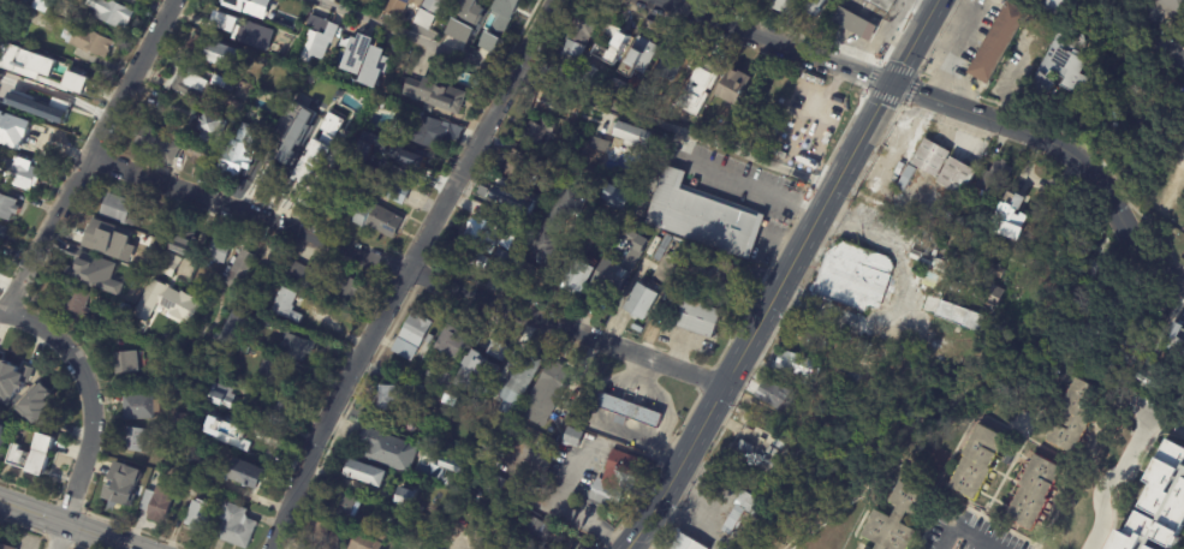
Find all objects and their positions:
building: (135, 0)
building: (260, 2)
building: (233, 5)
building: (881, 5)
building: (49, 6)
building: (395, 6)
building: (786, 6)
building: (814, 7)
building: (1049, 7)
building: (1168, 8)
building: (470, 11)
building: (510, 11)
building: (113, 12)
building: (426, 13)
building: (40, 20)
building: (225, 20)
building: (852, 26)
building: (61, 28)
building: (458, 30)
building: (561, 32)
building: (252, 34)
building: (1046, 34)
building: (317, 37)
building: (487, 41)
building: (89, 42)
building: (576, 42)
building: (475, 44)
building: (996, 44)
building: (609, 47)
building: (358, 50)
building: (1012, 50)
road: (1168, 53)
building: (209, 54)
building: (25, 61)
building: (637, 61)
building: (670, 64)
building: (376, 65)
building: (1064, 66)
building: (0, 76)
building: (77, 76)
building: (588, 76)
road: (888, 80)
traffic signals: (890, 82)
building: (186, 84)
building: (220, 84)
building: (618, 88)
building: (733, 88)
building: (700, 89)
building: (313, 93)
road: (576, 94)
building: (433, 96)
building: (791, 97)
building: (61, 106)
building: (232, 107)
building: (1114, 111)
building: (785, 125)
building: (12, 130)
building: (207, 130)
building: (280, 131)
building: (1093, 132)
building: (423, 133)
building: (534, 136)
building: (629, 136)
building: (296, 137)
building: (758, 141)
building: (796, 141)
building: (154, 145)
building: (600, 145)
building: (319, 151)
building: (195, 153)
building: (234, 154)
road: (87, 155)
building: (405, 156)
building: (928, 156)
building: (517, 168)
building: (898, 168)
building: (356, 171)
building: (269, 173)
building: (341, 174)
building: (23, 177)
building: (956, 177)
building: (892, 178)
building: (905, 178)
building: (992, 178)
building: (542, 187)
road: (754, 189)
building: (307, 190)
building: (389, 191)
building: (613, 198)
building: (501, 202)
building: (545, 204)
building: (8, 207)
building: (120, 209)
road: (1111, 209)
building: (638, 210)
building: (942, 211)
building: (700, 216)
building: (1006, 217)
building: (150, 220)
building: (375, 221)
building: (165, 229)
building: (554, 229)
building: (4, 231)
building: (481, 237)
building: (107, 240)
building: (655, 241)
building: (184, 243)
building: (661, 249)
building: (221, 250)
building: (930, 258)
road: (1144, 258)
building: (106, 261)
building: (502, 261)
building: (144, 262)
building: (172, 263)
building: (631, 263)
building: (84, 267)
building: (242, 268)
building: (665, 269)
road: (404, 270)
road: (413, 273)
building: (727, 275)
road: (783, 275)
building: (853, 276)
building: (573, 278)
building: (201, 282)
building: (328, 282)
building: (986, 291)
building: (78, 300)
building: (165, 300)
building: (287, 304)
building: (639, 304)
building: (127, 308)
road: (0, 311)
building: (952, 317)
building: (267, 320)
building: (696, 321)
building: (236, 328)
building: (409, 335)
building: (809, 335)
building: (1176, 336)
building: (450, 342)
building: (195, 344)
building: (992, 344)
building: (301, 346)
building: (227, 352)
building: (484, 354)
building: (936, 357)
building: (911, 358)
building: (129, 362)
building: (891, 364)
building: (790, 368)
building: (270, 371)
building: (476, 371)
building: (426, 374)
building: (880, 374)
building: (1149, 374)
building: (850, 378)
building: (444, 380)
building: (22, 381)
building: (516, 382)
building: (591, 393)
building: (477, 394)
building: (545, 394)
building: (226, 395)
building: (395, 395)
building: (772, 395)
building: (36, 401)
building: (143, 406)
building: (279, 406)
road: (93, 410)
building: (627, 410)
building: (38, 416)
building: (1066, 416)
building: (183, 418)
building: (224, 422)
building: (6, 423)
building: (2, 430)
building: (572, 437)
building: (136, 440)
building: (267, 440)
building: (777, 443)
building: (744, 447)
building: (385, 449)
building: (769, 452)
building: (35, 454)
building: (171, 459)
building: (935, 459)
building: (974, 463)
building: (450, 464)
building: (212, 469)
building: (249, 473)
building: (361, 473)
building: (614, 478)
building: (493, 482)
building: (120, 483)
road: (1124, 485)
building: (1031, 493)
building: (476, 495)
building: (401, 497)
building: (160, 502)
building: (1158, 503)
building: (343, 506)
road: (571, 507)
building: (516, 511)
building: (740, 512)
building: (201, 515)
building: (896, 519)
road: (70, 524)
building: (239, 525)
building: (385, 527)
building: (540, 530)
building: (322, 536)
road: (956, 541)
building: (363, 542)
building: (684, 543)
building: (6, 545)
building: (422, 548)

